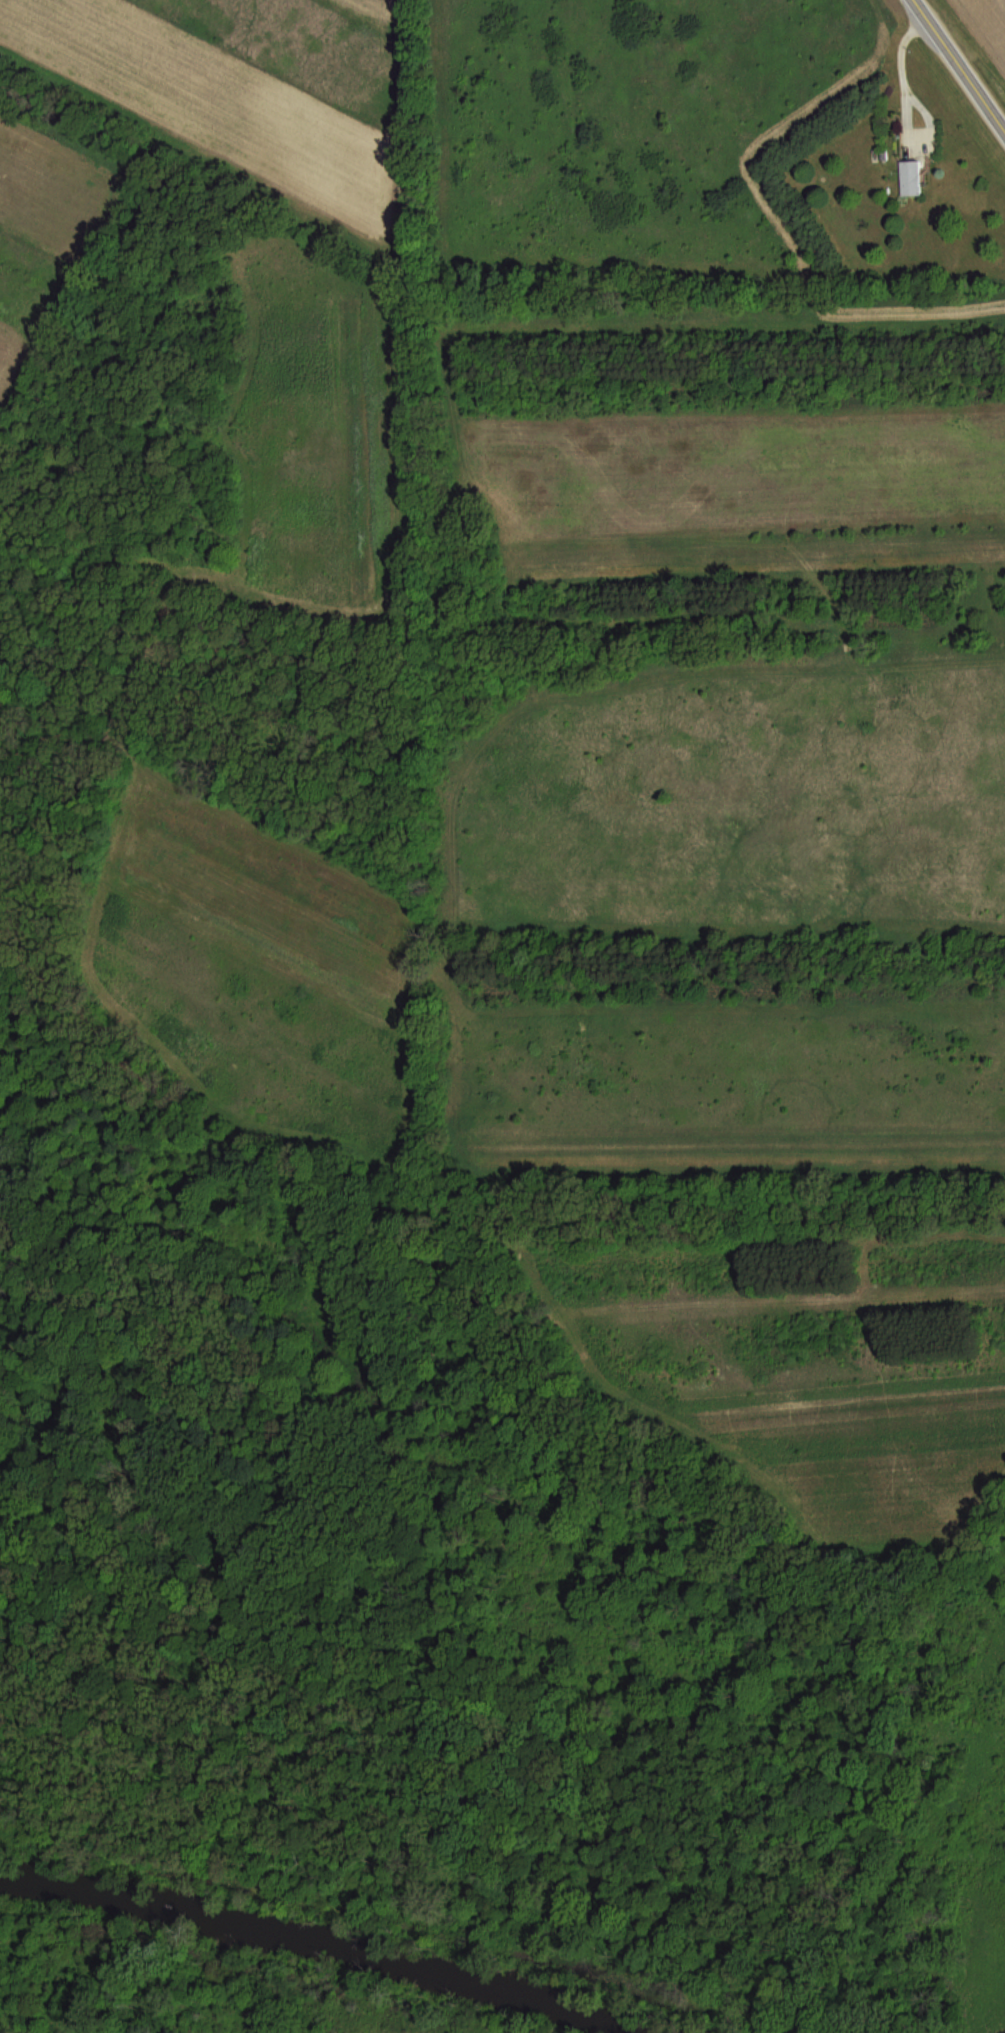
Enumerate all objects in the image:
crop: (979, 34)
road: (957, 67)
road: (899, 83)
building: (913, 175)
river: (325, 1941)

